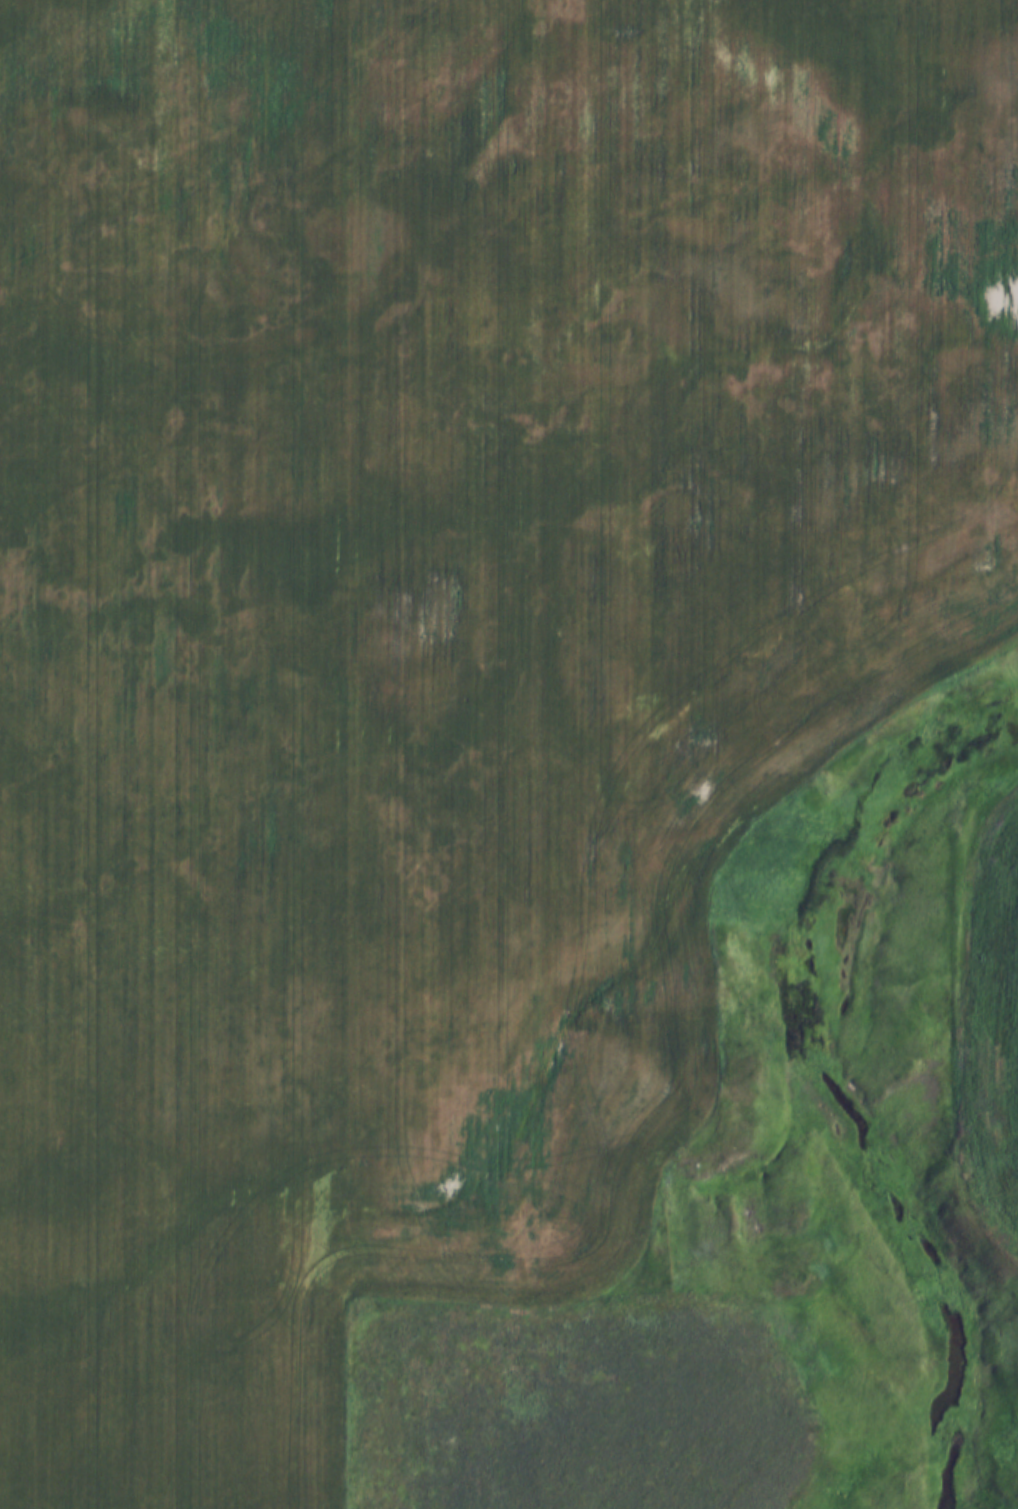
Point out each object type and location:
road: (816, 1403)

